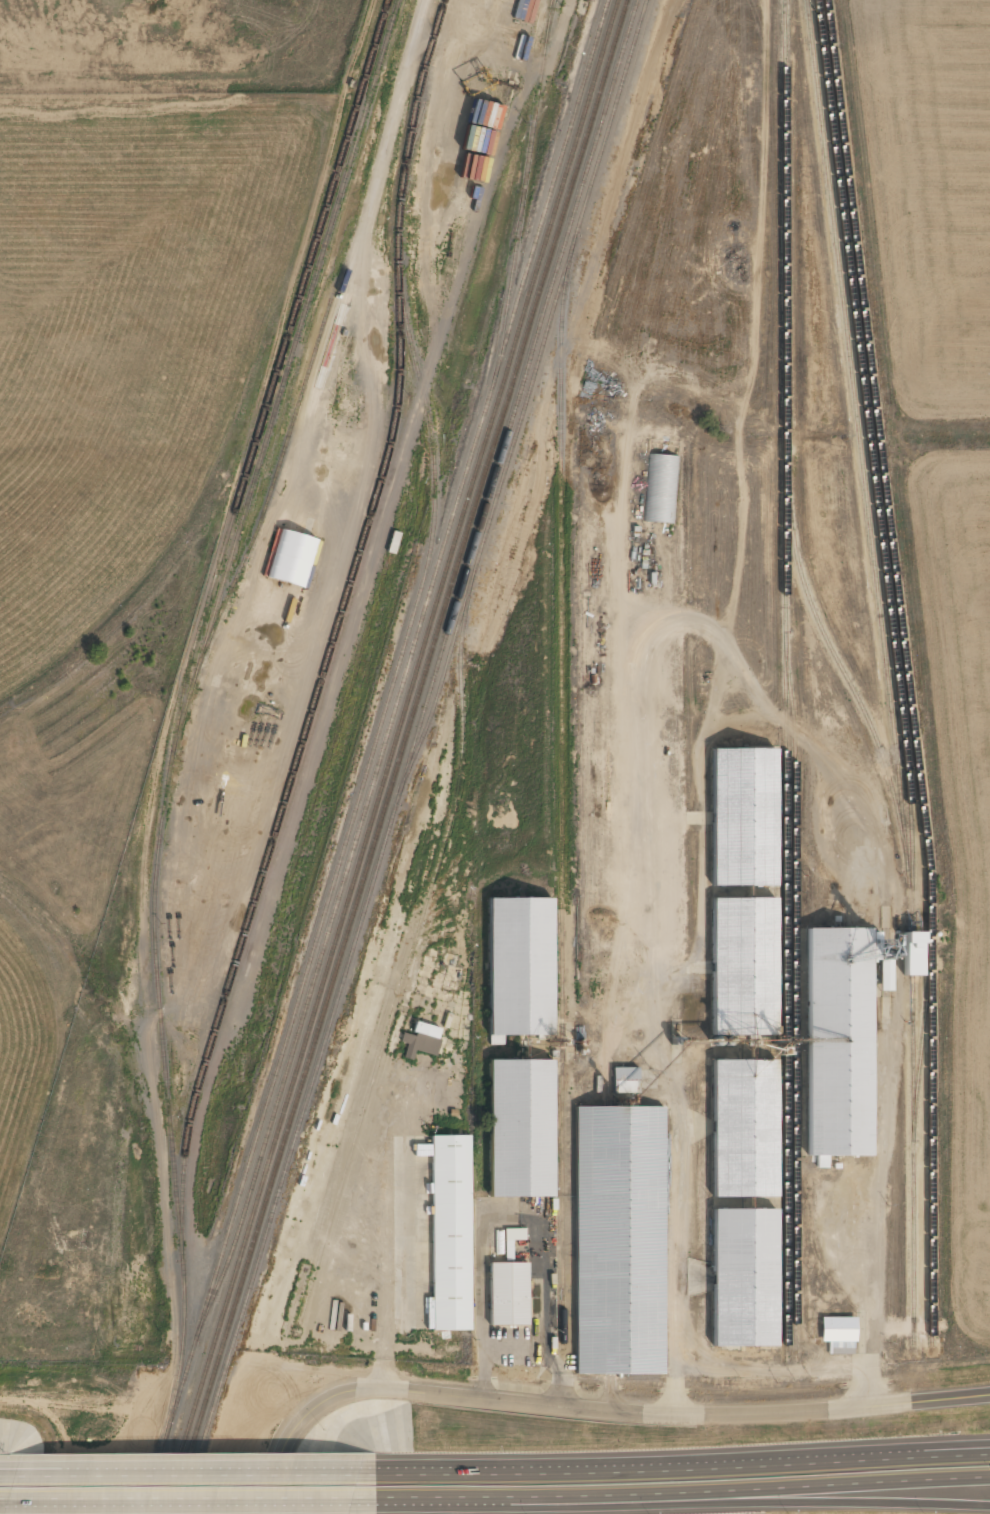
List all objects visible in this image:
railway: (551, 23)
railway: (526, 183)
railway: (287, 372)
railway: (526, 399)
railway: (857, 429)
railway: (869, 449)
building: (662, 489)
railway: (270, 493)
railway: (785, 525)
building: (296, 580)
railway: (339, 620)
railway: (406, 670)
railway: (905, 671)
railway: (181, 707)
railway: (389, 756)
railway: (397, 756)
railway: (409, 756)
railway: (562, 788)
building: (744, 818)
railway: (907, 870)
building: (201, 875)
railway: (327, 898)
building: (914, 954)
railway: (409, 959)
building: (520, 968)
building: (744, 968)
building: (422, 1040)
railway: (922, 1041)
building: (625, 1080)
building: (521, 1129)
building: (822, 1162)
building: (447, 1230)
building: (513, 1237)
building: (744, 1278)
building: (509, 1294)
building: (605, 1325)
building: (839, 1335)
road: (587, 1406)
road: (63, 1435)
road: (680, 1470)
road: (185, 1472)
road: (681, 1495)
road: (805, 1501)
railway: (148, 1502)
road: (186, 1503)

